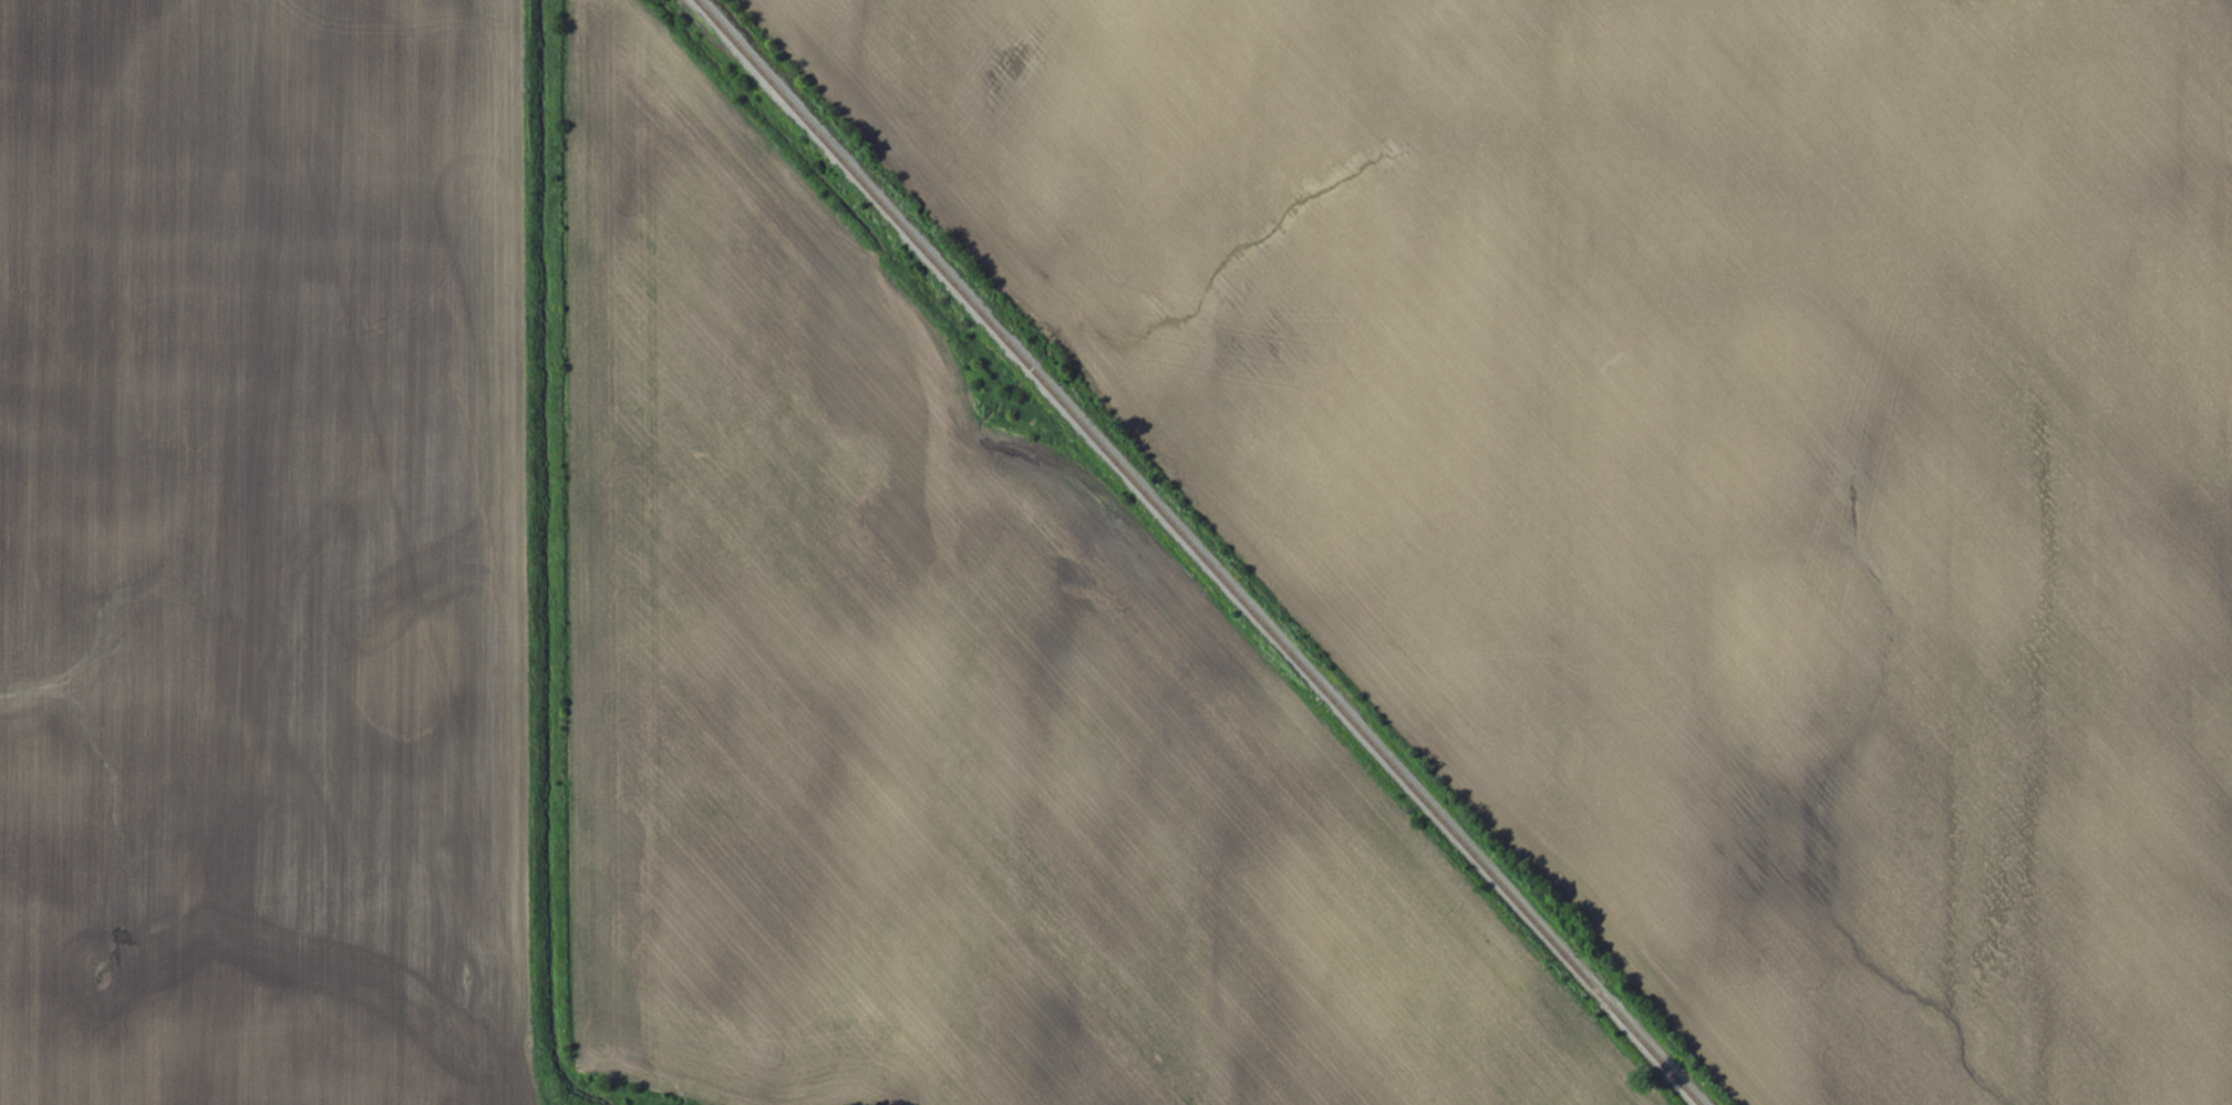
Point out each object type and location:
railway: (1202, 550)

